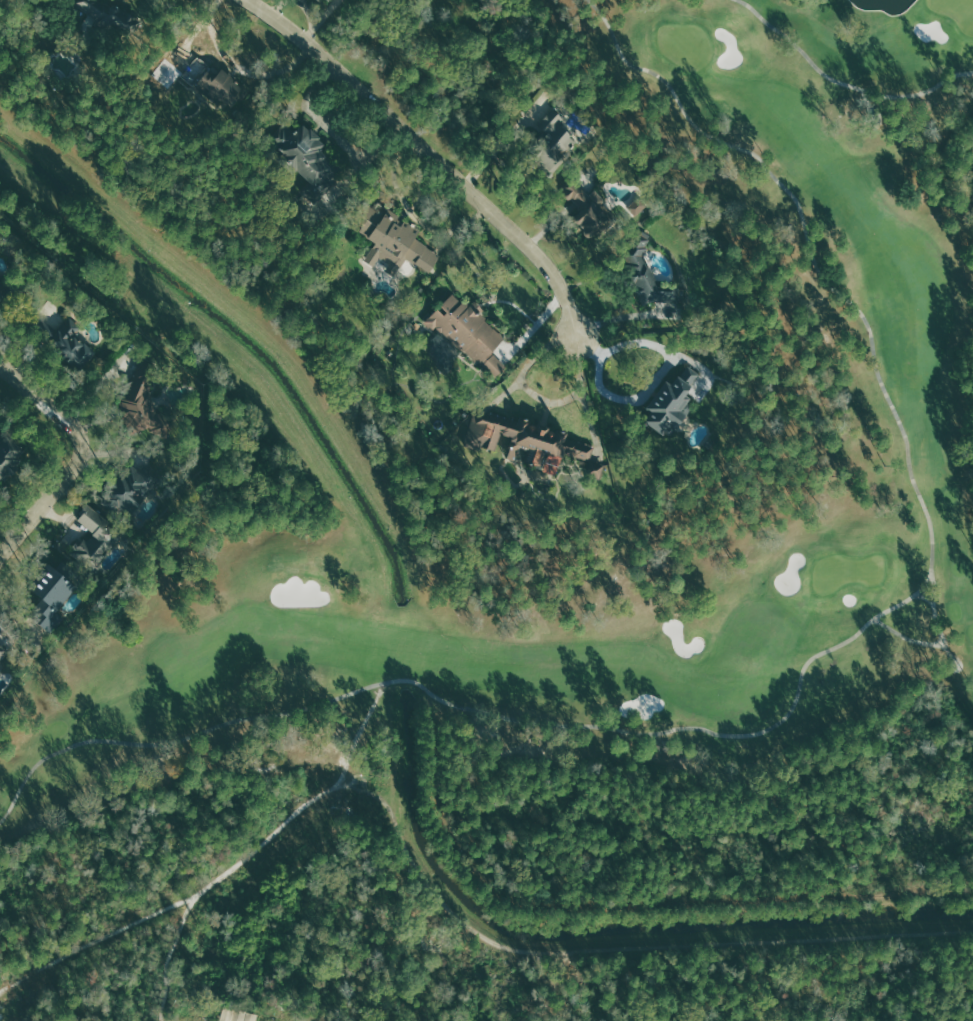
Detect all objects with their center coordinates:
building: (325, 0)
building: (330, 0)
park: (956, 11)
building: (104, 15)
park: (684, 44)
building: (211, 82)
road: (844, 82)
building: (552, 132)
road: (431, 154)
building: (307, 159)
building: (638, 205)
building: (587, 211)
building: (398, 242)
building: (646, 276)
building: (0, 291)
road: (535, 328)
building: (467, 331)
building: (73, 345)
road: (41, 400)
building: (669, 402)
building: (141, 404)
building: (528, 444)
building: (8, 456)
building: (595, 468)
building: (130, 487)
road: (46, 496)
building: (96, 537)
park: (846, 570)
building: (49, 595)
road: (925, 597)
road: (936, 620)
park: (573, 637)
road: (906, 637)
building: (3, 656)
road: (799, 682)
road: (438, 896)
building: (228, 1013)
building: (248, 1016)
road: (236, 1019)

